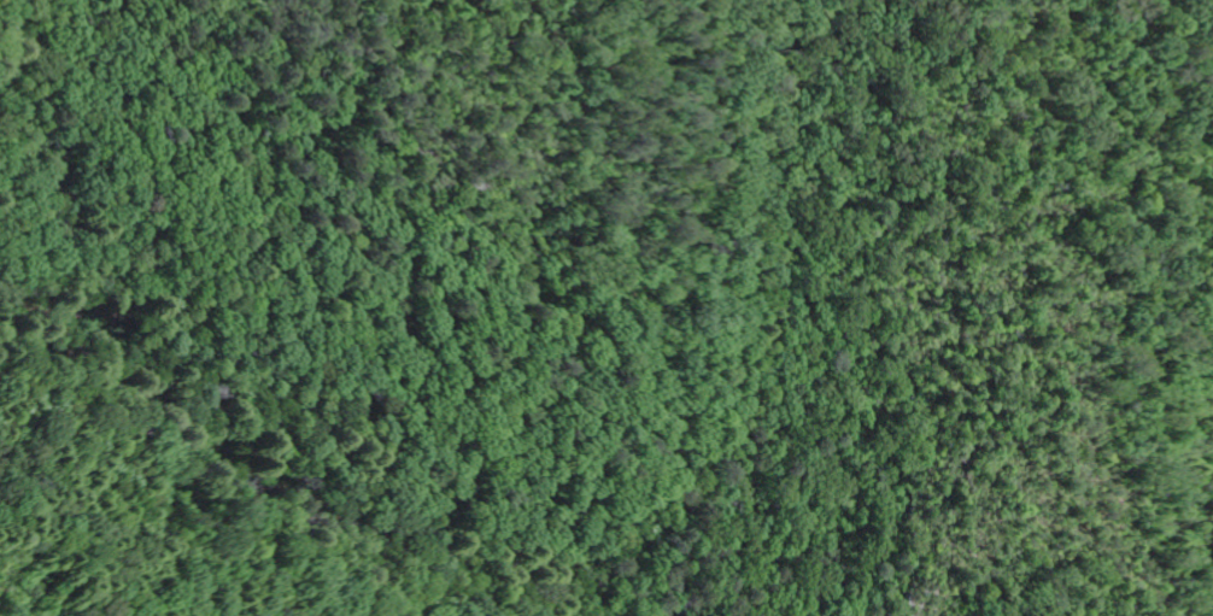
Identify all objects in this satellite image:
road: (1048, 37)

